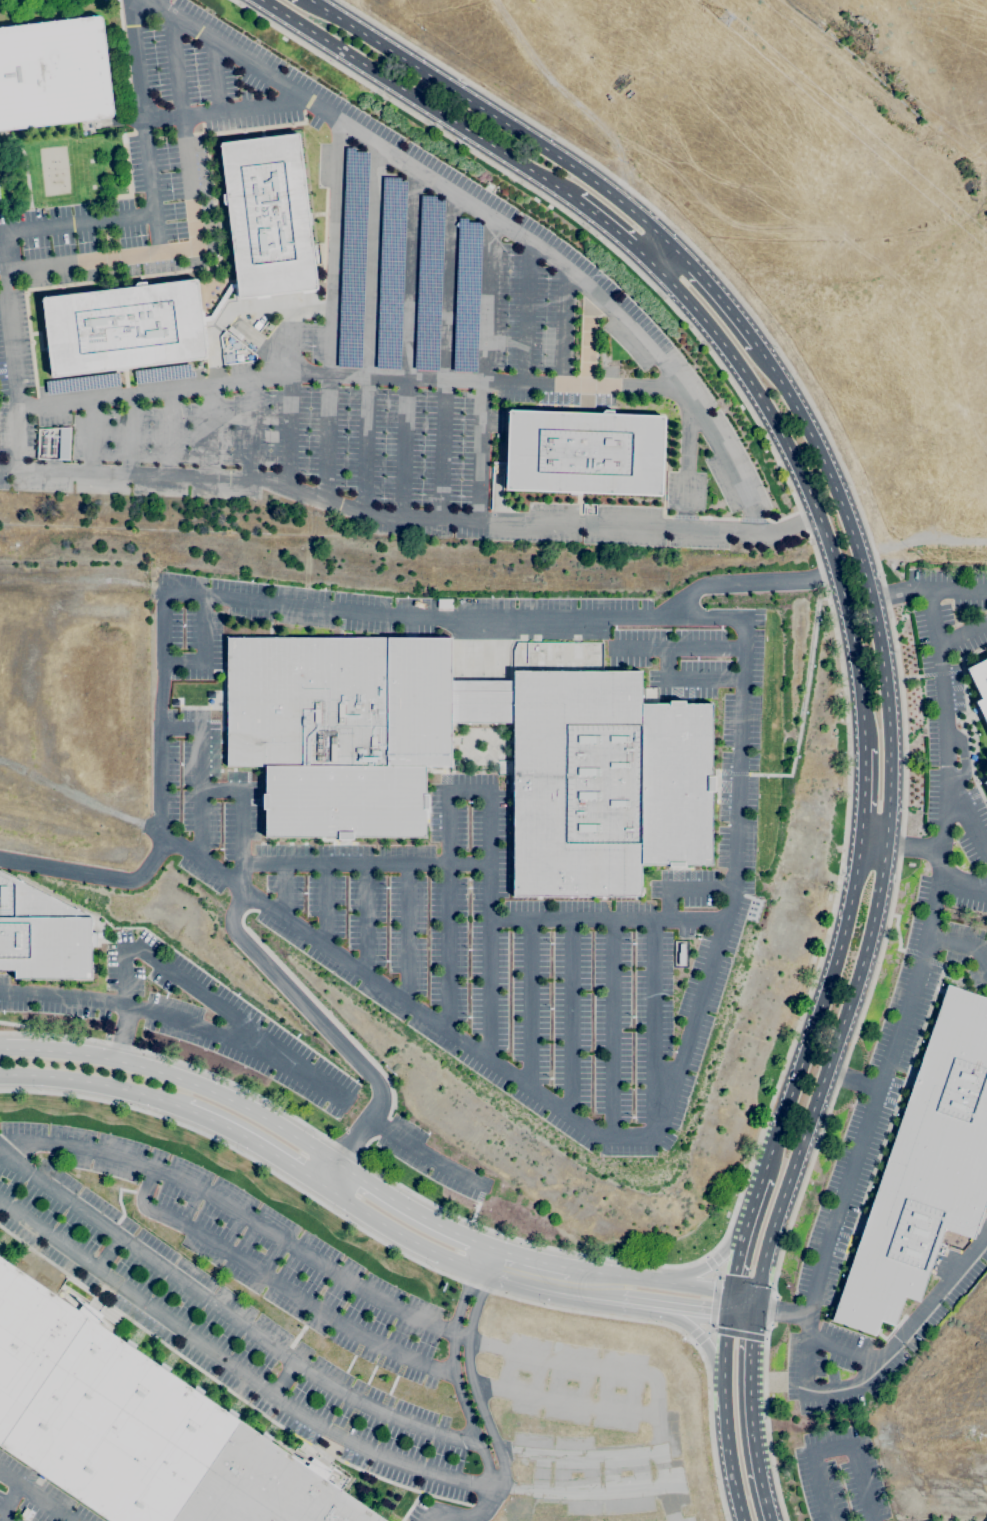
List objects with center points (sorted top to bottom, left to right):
road: (156, 3)
power tower: (729, 21)
parking lot: (205, 61)
building: (53, 74)
road: (568, 97)
road: (419, 100)
road: (224, 109)
road: (493, 116)
road: (144, 126)
building: (268, 216)
road: (494, 218)
road: (193, 226)
road: (614, 232)
road: (660, 254)
road: (8, 277)
road: (713, 295)
building: (219, 303)
road: (330, 310)
road: (524, 311)
building: (269, 326)
building: (124, 327)
road: (370, 330)
road: (564, 330)
building: (235, 333)
road: (587, 344)
building: (235, 345)
road: (407, 345)
parking lot: (400, 348)
road: (445, 357)
road: (485, 370)
road: (351, 376)
road: (291, 408)
road: (253, 428)
road: (210, 430)
road: (171, 432)
road: (132, 433)
road: (93, 435)
building: (64, 443)
building: (583, 452)
road: (688, 465)
road: (803, 486)
road: (406, 522)
road: (746, 580)
road: (956, 589)
road: (899, 591)
road: (962, 632)
road: (683, 650)
road: (896, 650)
building: (576, 651)
road: (206, 652)
building: (548, 652)
building: (539, 657)
building: (558, 657)
building: (558, 666)
road: (689, 682)
building: (980, 686)
parking lot: (952, 728)
building: (338, 745)
road: (962, 759)
road: (739, 767)
road: (201, 774)
building: (985, 783)
road: (482, 791)
road: (863, 795)
road: (886, 818)
road: (242, 821)
road: (968, 822)
road: (873, 842)
road: (909, 846)
road: (365, 866)
road: (94, 878)
road: (837, 882)
road: (963, 883)
road: (683, 886)
road: (285, 891)
road: (324, 906)
road: (606, 920)
road: (366, 921)
road: (407, 934)
building: (42, 935)
road: (965, 945)
parking lot: (492, 954)
building: (681, 955)
road: (151, 957)
road: (908, 994)
road: (530, 1004)
road: (818, 1010)
road: (569, 1017)
road: (179, 1022)
road: (615, 1029)
road: (652, 1030)
road: (333, 1036)
parking lot: (237, 1045)
road: (174, 1078)
road: (851, 1081)
road: (95, 1083)
road: (254, 1144)
road: (420, 1150)
building: (926, 1169)
road: (405, 1206)
road: (235, 1209)
road: (399, 1234)
road: (745, 1235)
road: (108, 1256)
road: (526, 1259)
road: (491, 1262)
road: (424, 1263)
road: (712, 1263)
road: (651, 1281)
road: (279, 1284)
road: (553, 1291)
traffic signals: (731, 1293)
road: (743, 1296)
traffic signals: (756, 1299)
parking lot: (242, 1301)
road: (715, 1301)
road: (729, 1304)
road: (763, 1304)
road: (640, 1305)
road: (754, 1309)
road: (693, 1312)
road: (787, 1312)
road: (761, 1314)
road: (227, 1315)
traffic signals: (728, 1316)
road: (740, 1317)
traffic signals: (753, 1319)
building: (930, 1321)
road: (904, 1328)
road: (737, 1333)
road: (461, 1334)
road: (700, 1340)
road: (841, 1348)
road: (452, 1368)
road: (236, 1371)
road: (283, 1380)
road: (473, 1385)
road: (726, 1419)
road: (752, 1420)
building: (136, 1427)
road: (834, 1449)
road: (660, 1472)
road: (35, 1497)
road: (10, 1503)
road: (466, 1518)

